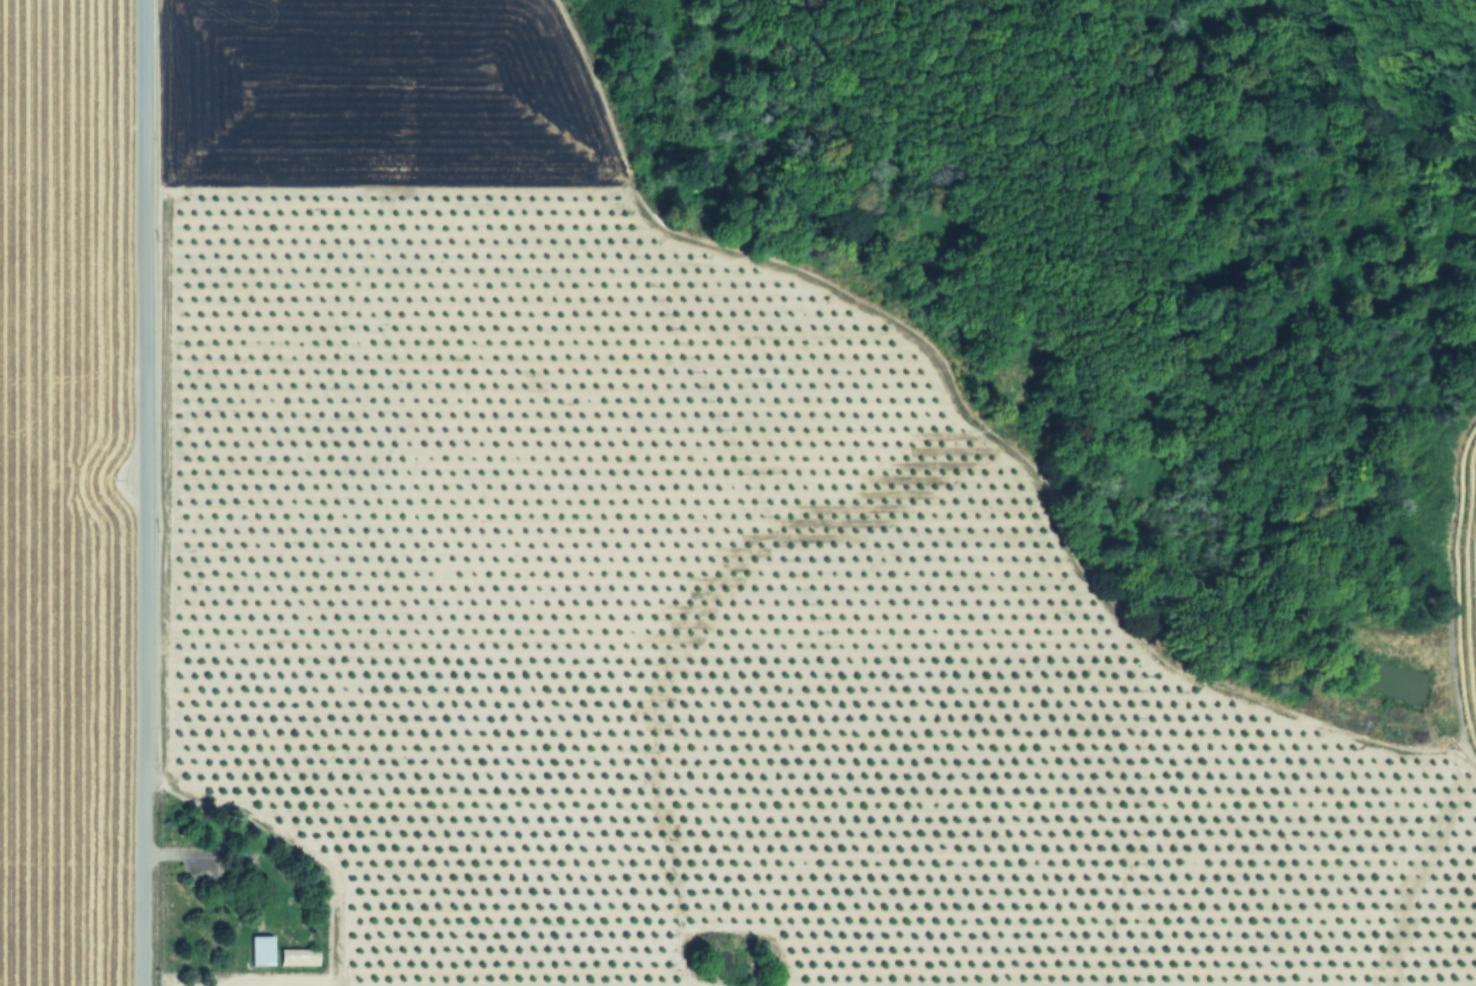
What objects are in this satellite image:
river: (1289, 122)
road: (143, 493)
crop: (523, 558)
building: (299, 957)

